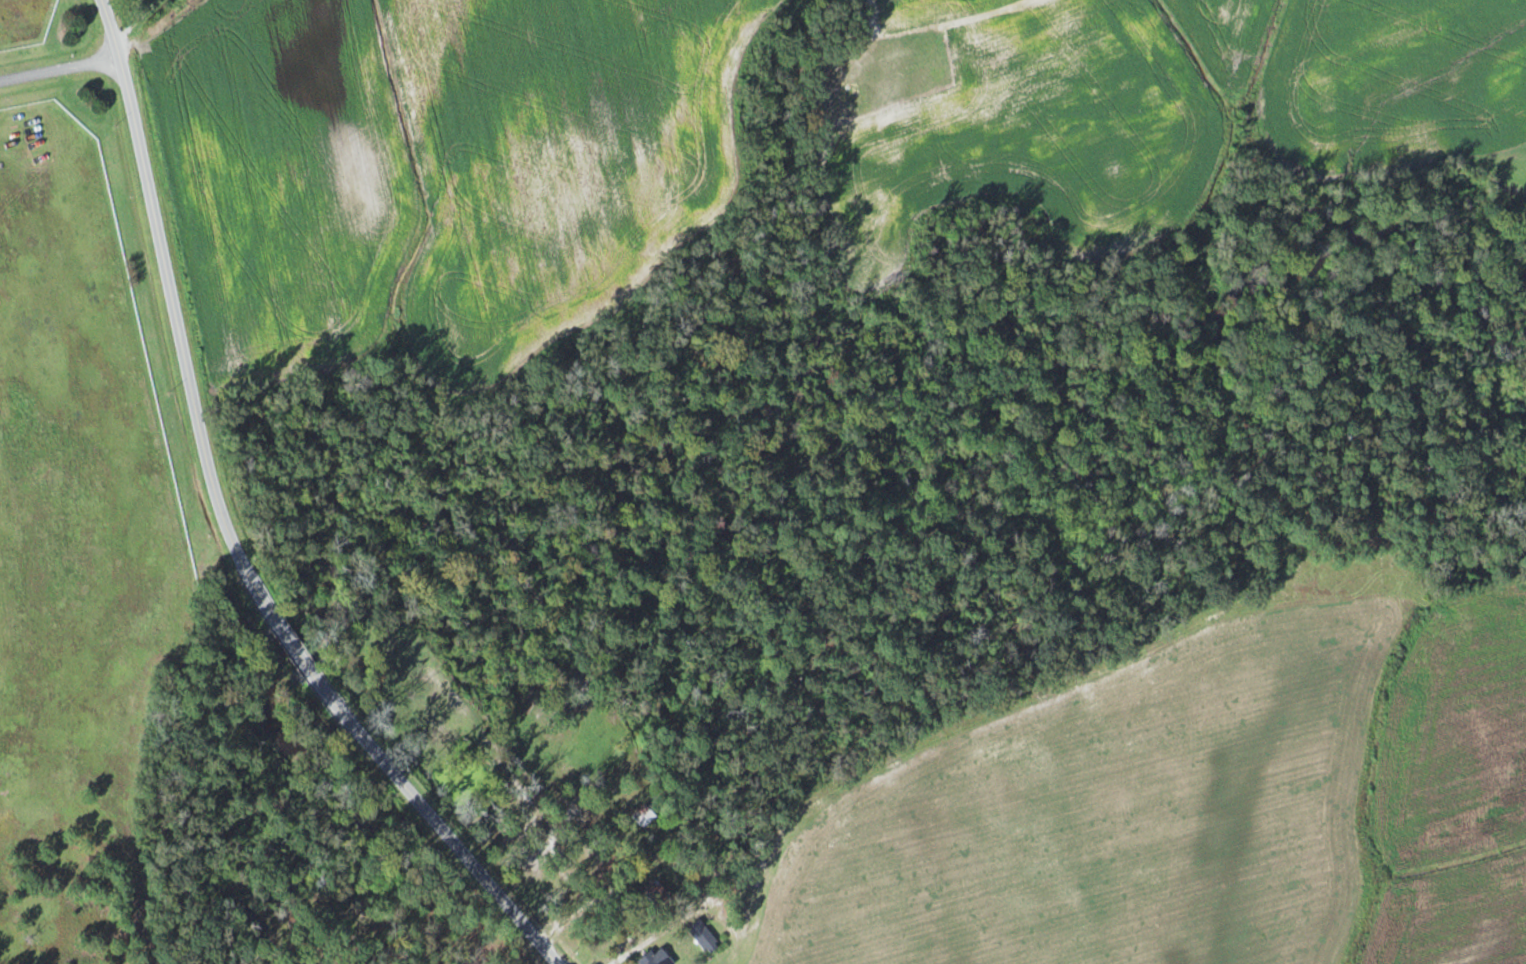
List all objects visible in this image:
road: (59, 68)
road: (174, 311)
river: (737, 451)
road: (297, 652)
building: (645, 816)
road: (441, 827)
building: (654, 891)
building: (706, 938)
building: (655, 957)

